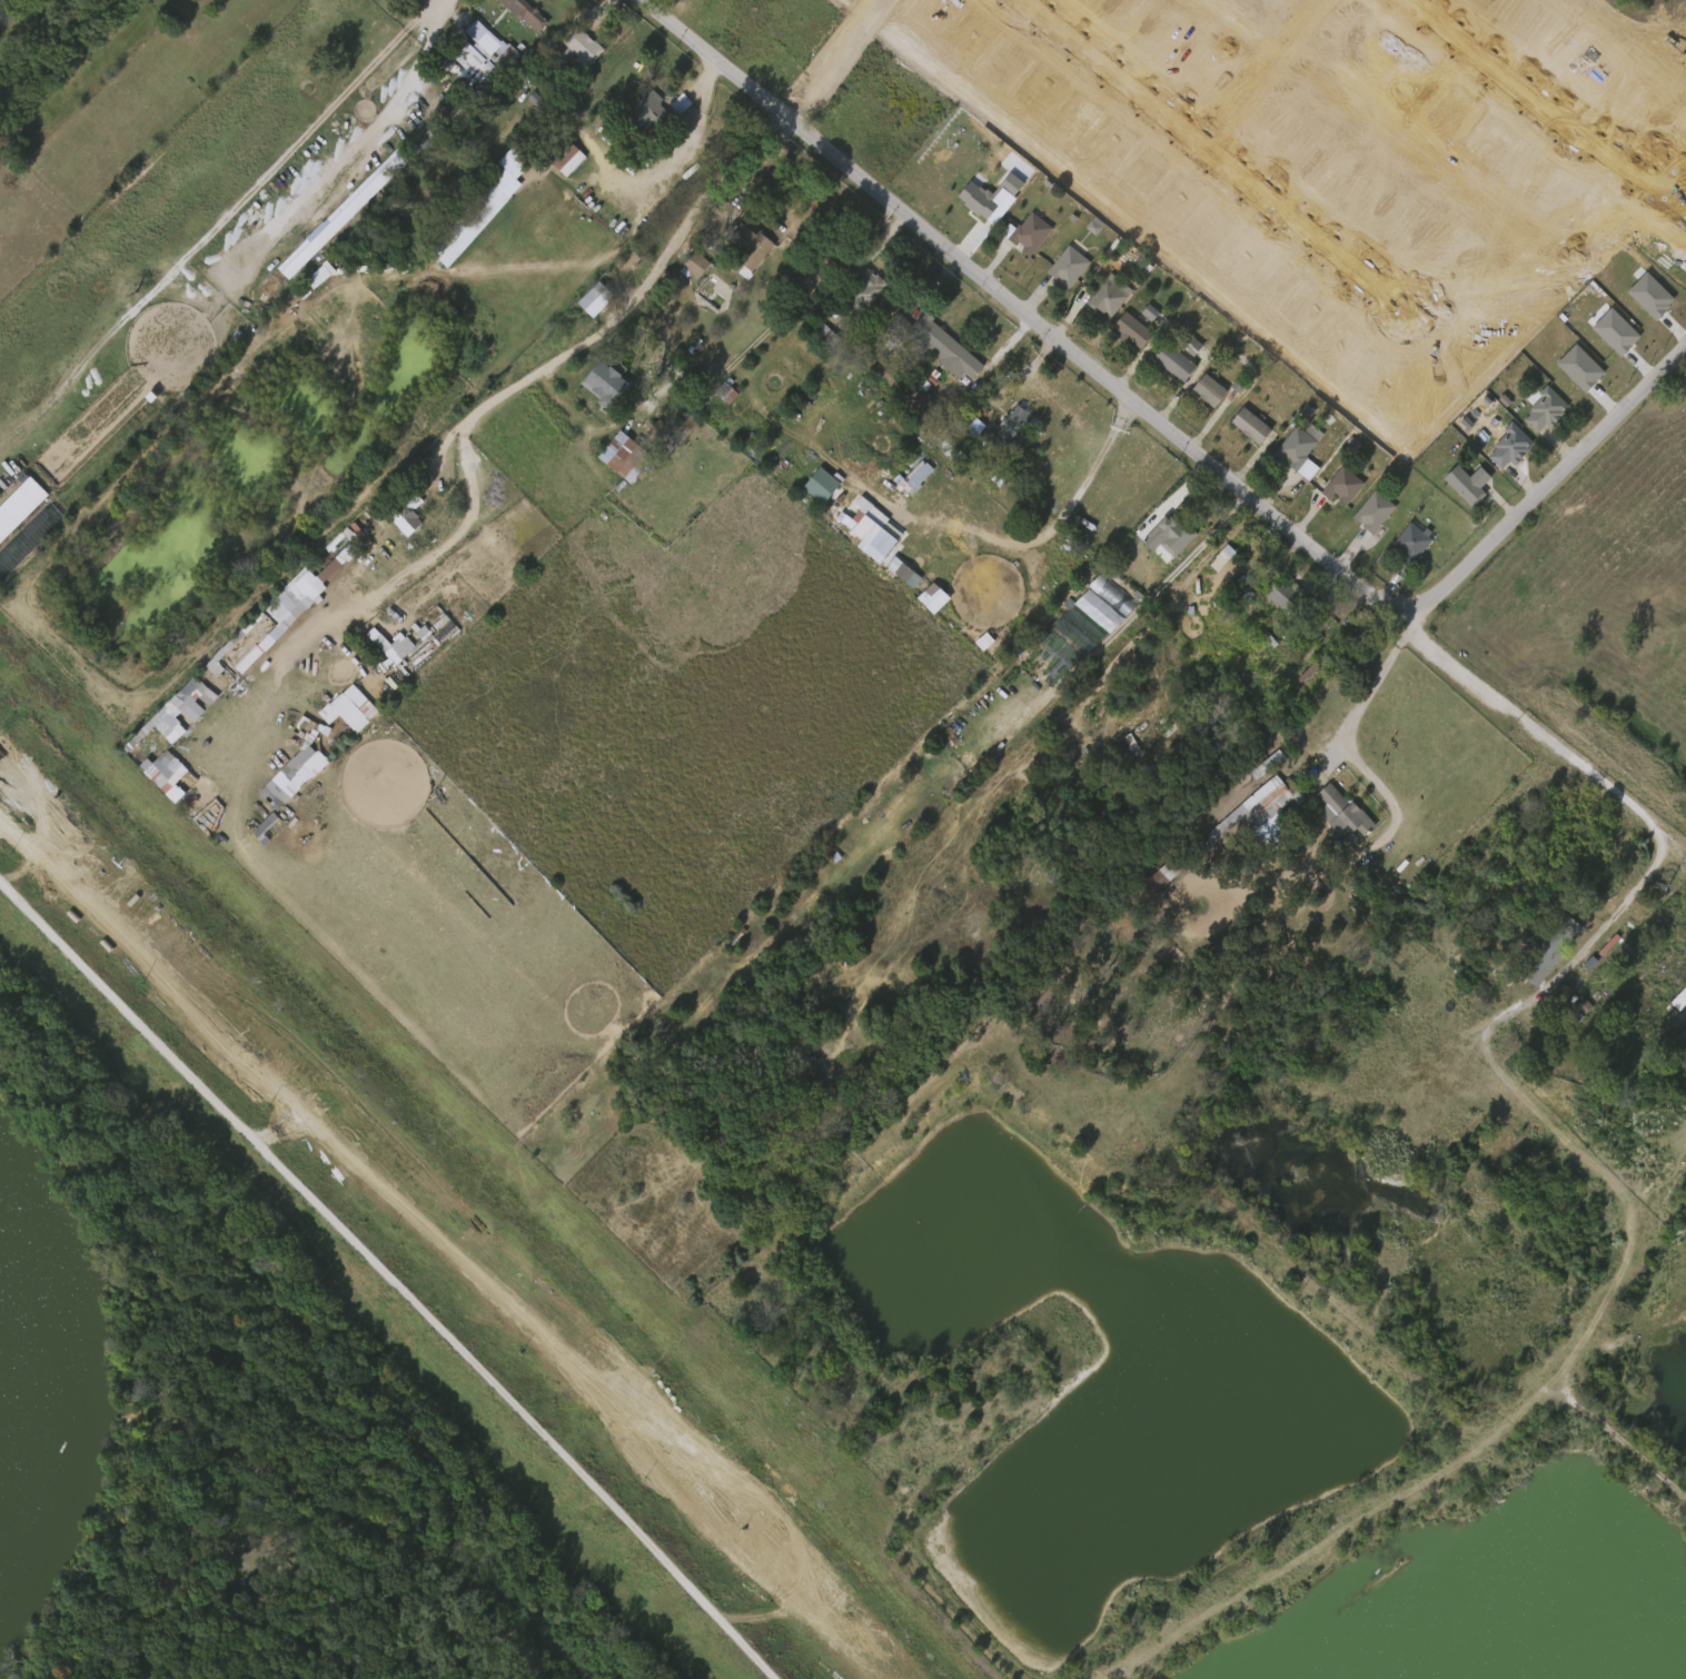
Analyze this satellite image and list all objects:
building: (527, 12)
building: (514, 16)
building: (486, 47)
building: (588, 60)
building: (462, 63)
building: (670, 106)
road: (380, 109)
building: (651, 111)
building: (566, 157)
building: (980, 200)
building: (348, 212)
road: (227, 221)
building: (1028, 231)
building: (745, 244)
building: (697, 265)
building: (1068, 266)
building: (686, 267)
building: (867, 286)
building: (592, 298)
building: (1104, 298)
building: (1639, 298)
building: (1139, 315)
building: (1131, 329)
building: (915, 331)
building: (1604, 335)
building: (1181, 348)
road: (553, 361)
building: (1172, 361)
building: (961, 362)
building: (1568, 370)
building: (605, 379)
building: (1208, 389)
building: (1198, 393)
building: (1545, 410)
building: (1249, 424)
building: (1006, 430)
road: (1177, 431)
building: (656, 433)
building: (1297, 446)
building: (1509, 446)
building: (622, 456)
building: (908, 477)
building: (1466, 484)
building: (1341, 485)
building: (14, 503)
building: (1372, 511)
building: (406, 517)
building: (866, 534)
building: (1174, 542)
building: (1411, 543)
building: (301, 587)
building: (1283, 596)
building: (1101, 597)
building: (1087, 614)
building: (381, 647)
building: (214, 670)
road: (1459, 674)
building: (328, 714)
road: (1343, 734)
road: (1578, 764)
building: (1258, 766)
building: (1254, 814)
building: (1343, 815)
building: (1153, 875)
road: (1642, 883)
building: (1543, 940)
building: (742, 942)
building: (1551, 960)
road: (390, 1275)

